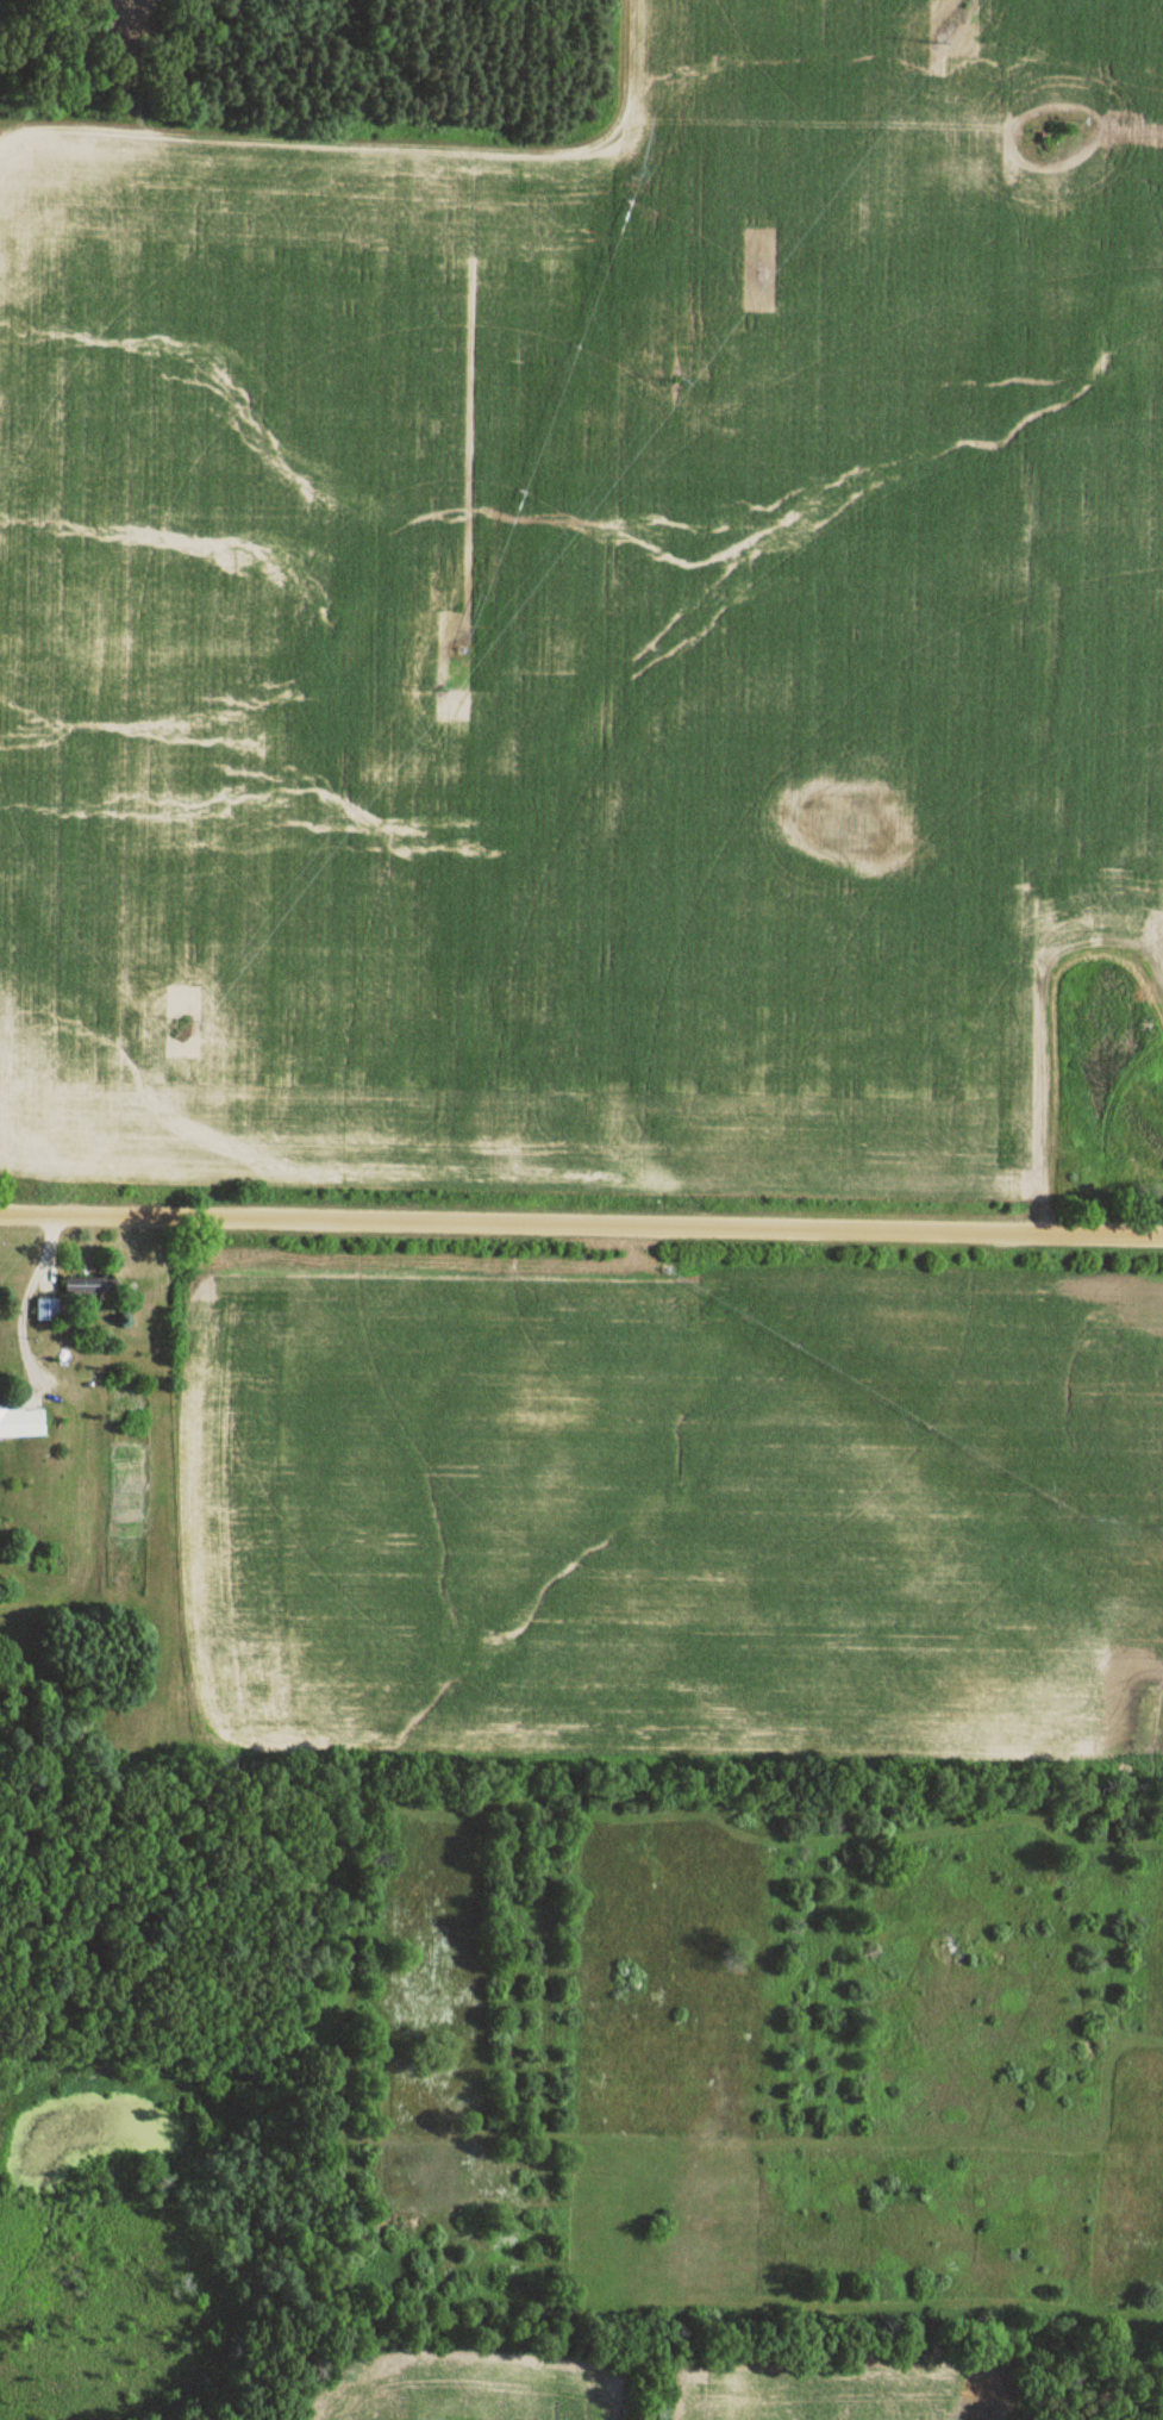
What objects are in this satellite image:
power tower: (949, 27)
road: (376, 143)
power tower: (676, 382)
power tower: (436, 690)
power tower: (189, 1019)
road: (581, 1228)
building: (88, 1287)
building: (45, 1311)
building: (20, 1424)

